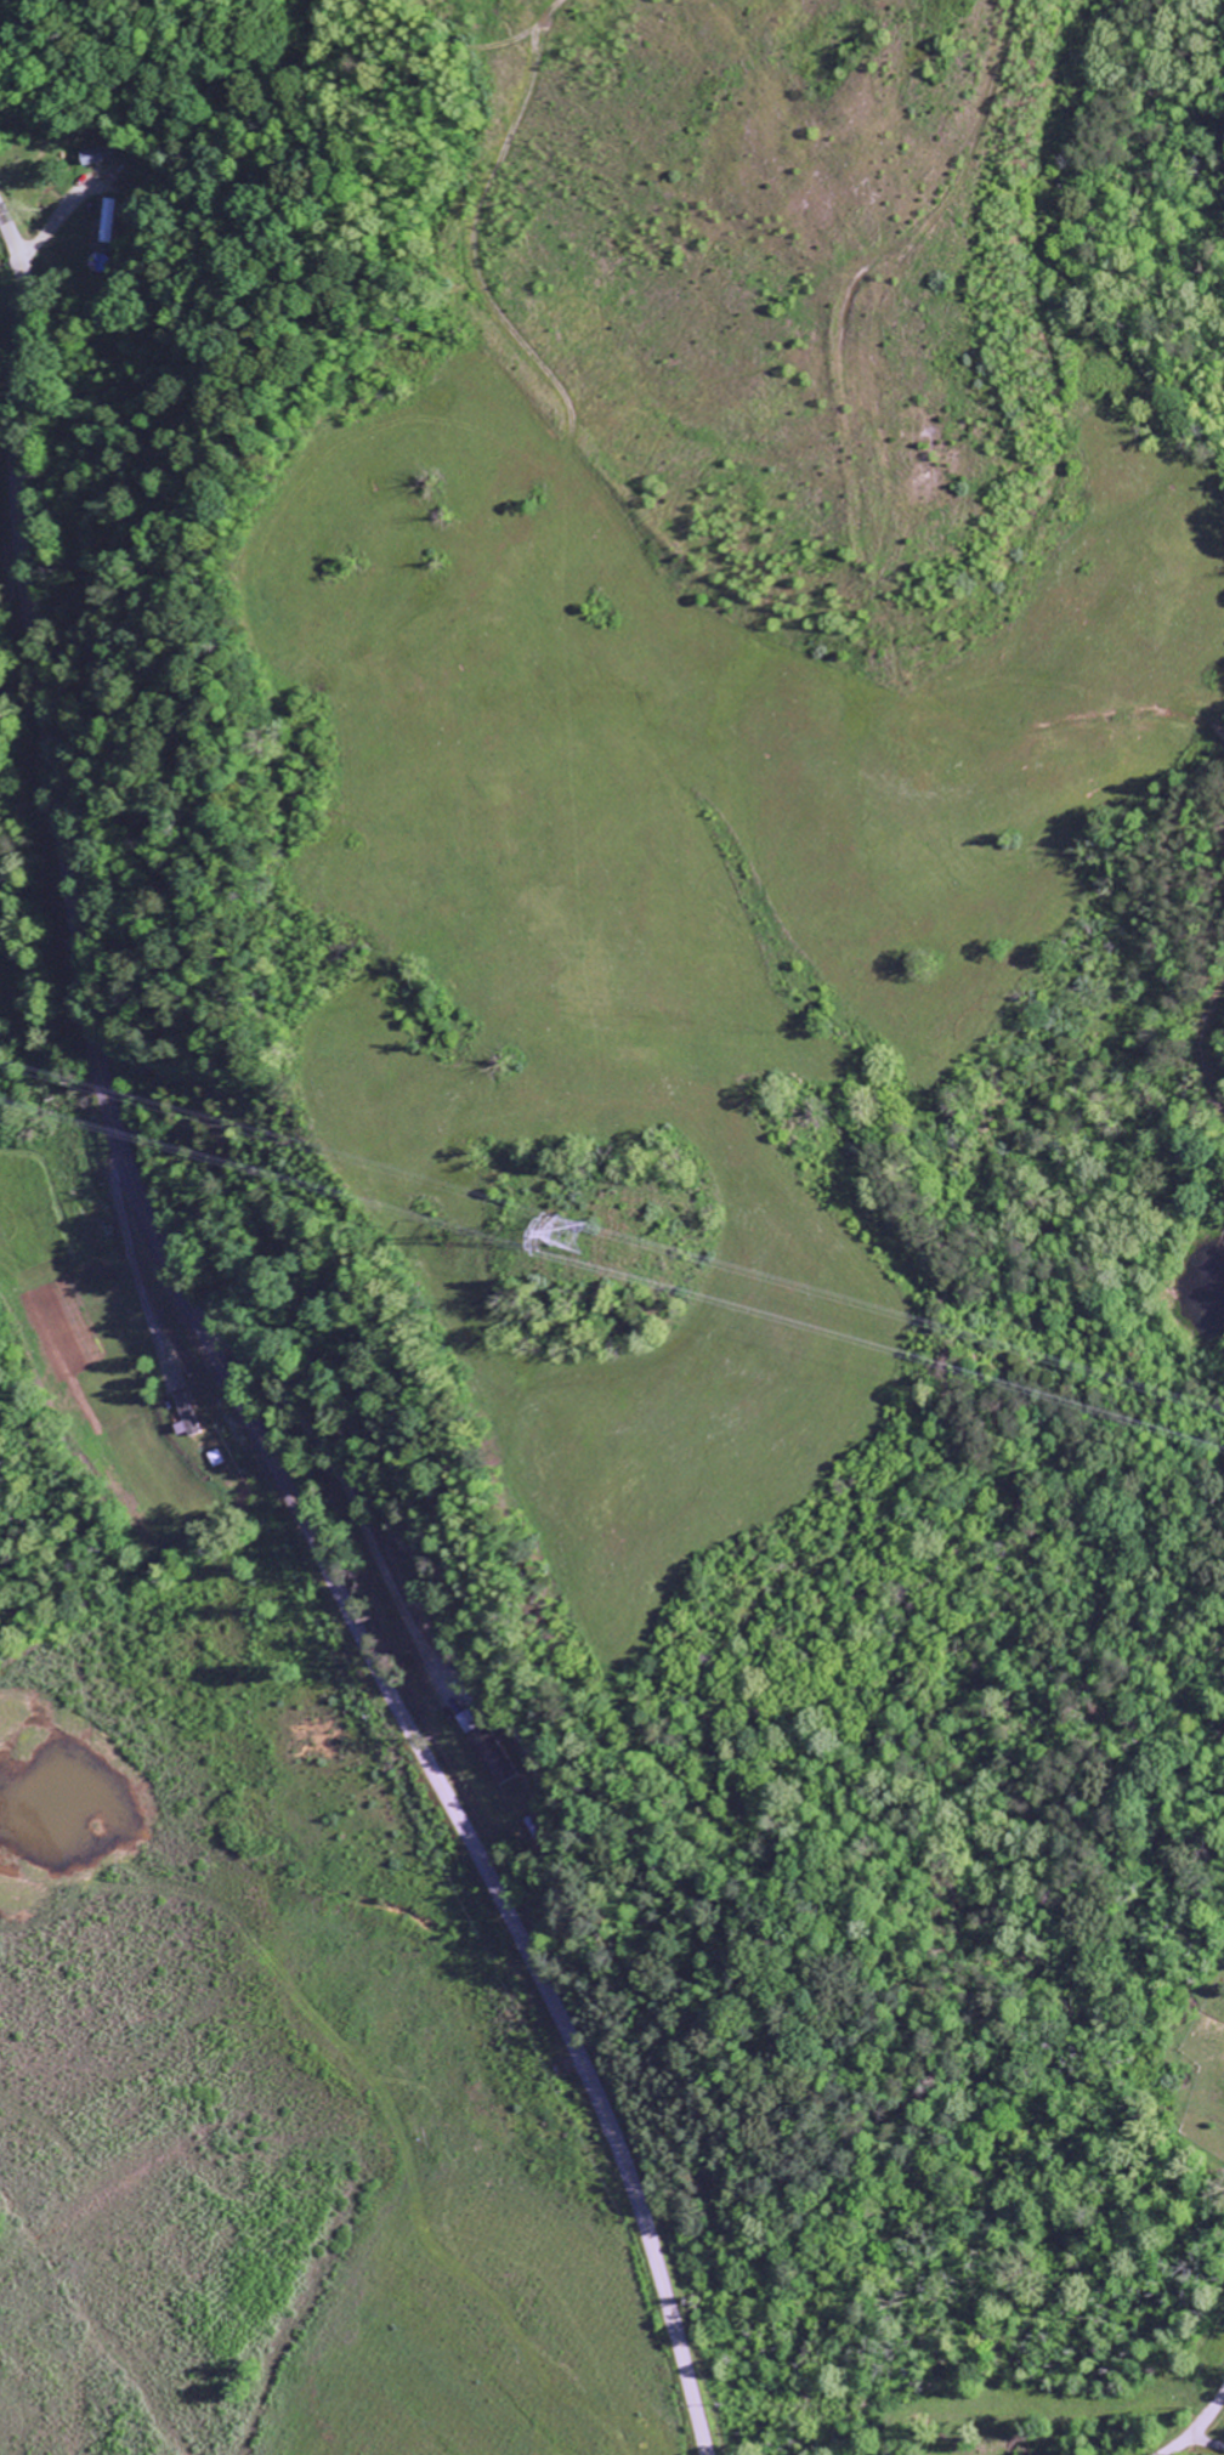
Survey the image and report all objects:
power tower: (554, 1237)
road: (222, 1368)
building: (494, 1748)
road: (1198, 2426)
road: (1203, 2449)

